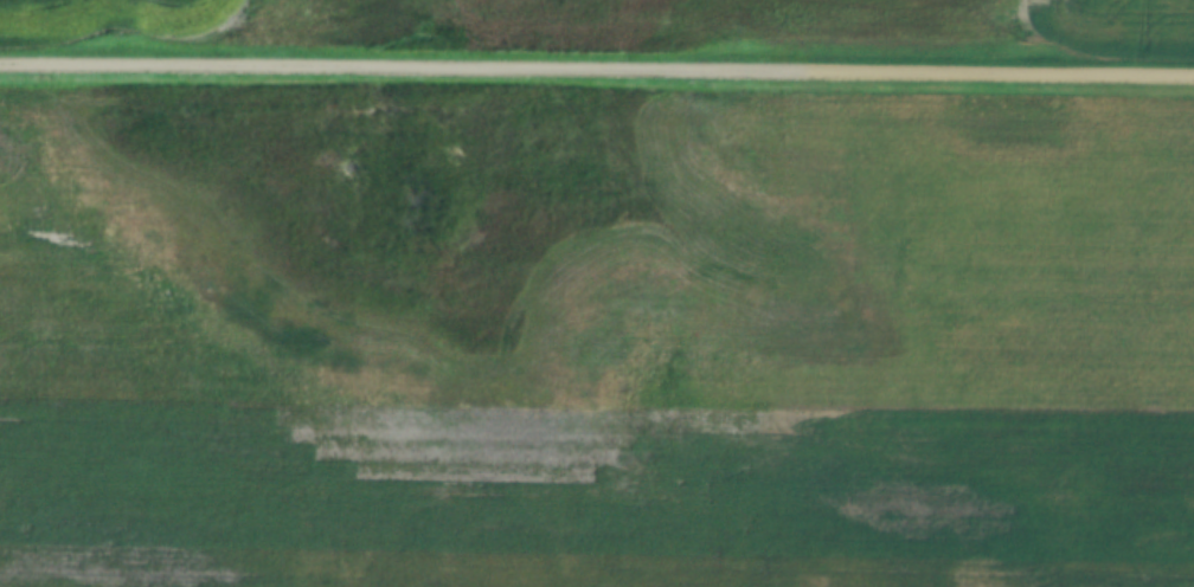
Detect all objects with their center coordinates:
road: (597, 75)

